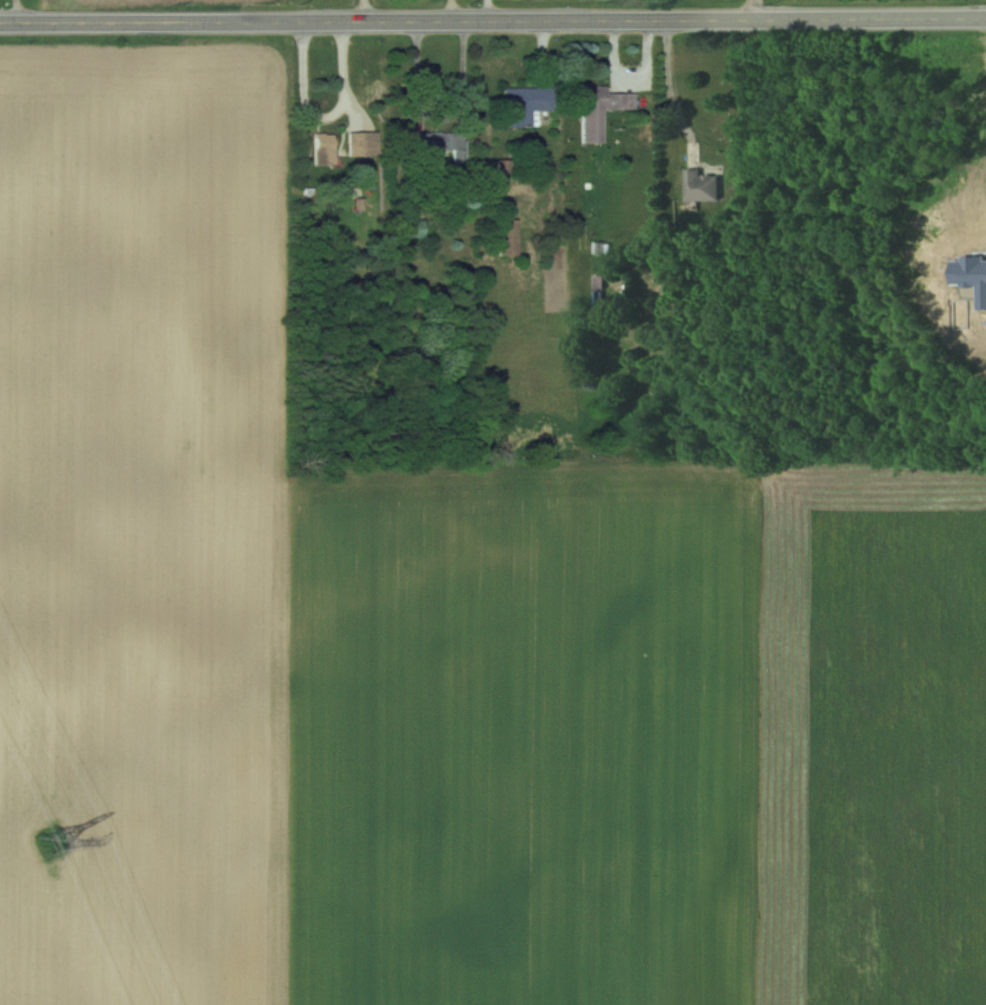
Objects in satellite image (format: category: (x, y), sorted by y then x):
road: (754, 9)
road: (18, 11)
road: (493, 19)
road: (668, 83)
building: (524, 103)
building: (599, 109)
road: (326, 116)
building: (362, 142)
building: (441, 142)
building: (323, 148)
building: (699, 185)
building: (411, 227)
building: (507, 236)
power tower: (54, 834)

